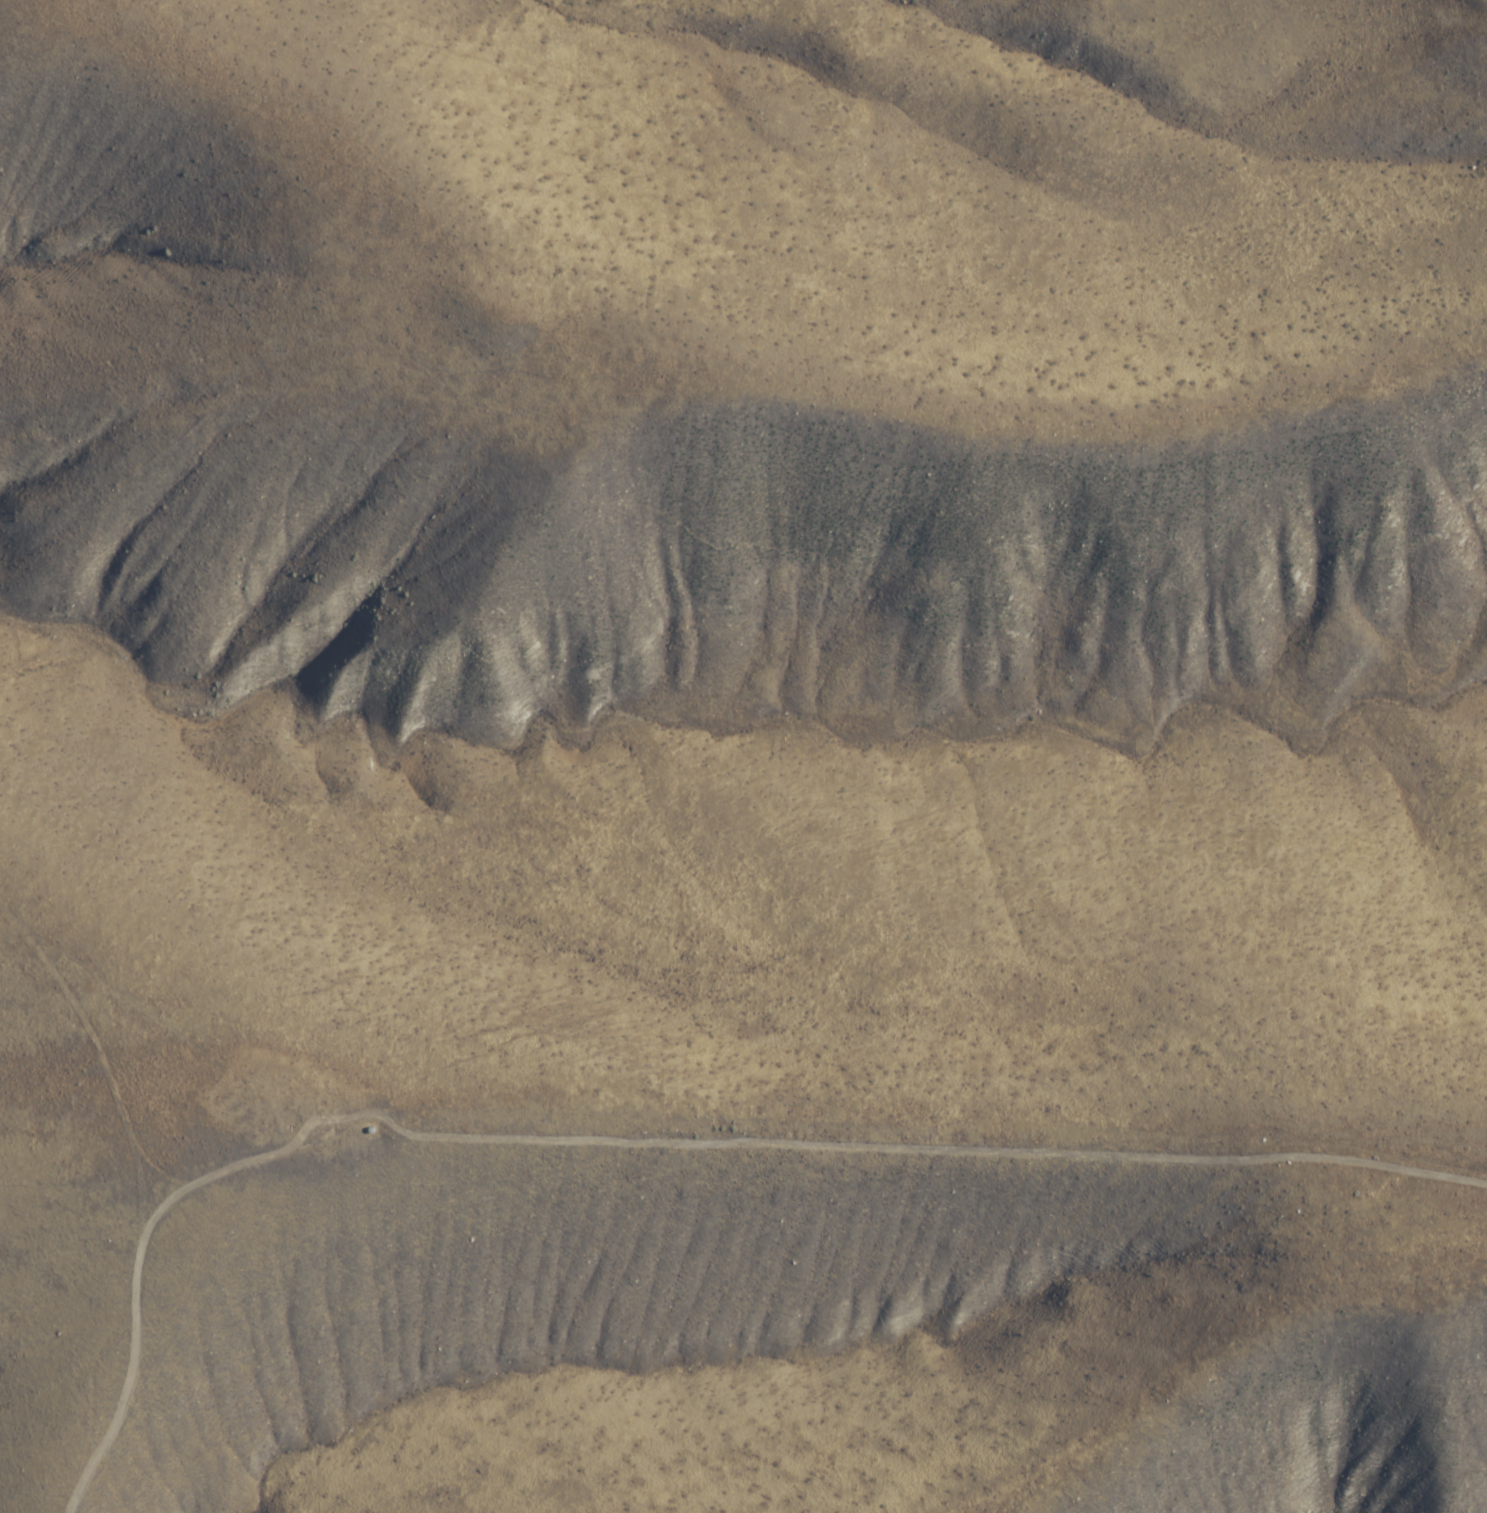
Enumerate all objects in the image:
railway: (190, 1414)
railway: (173, 1423)

